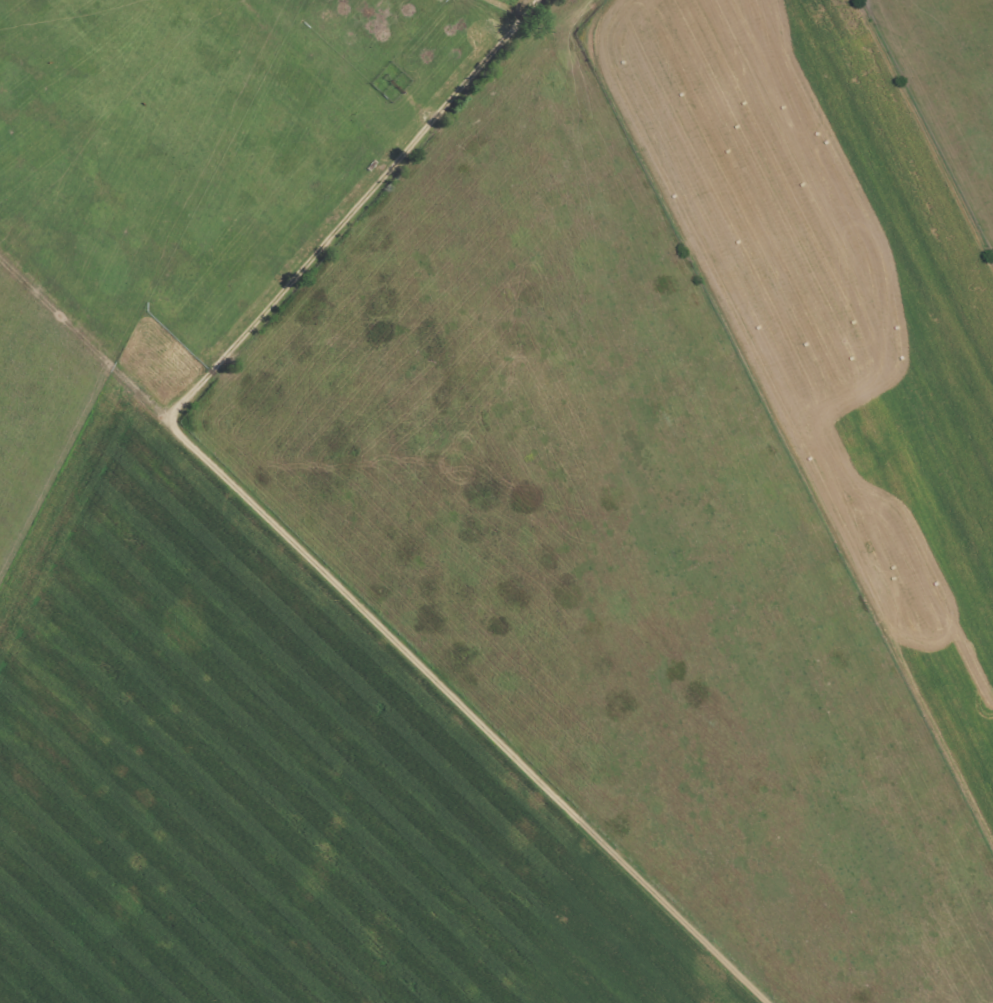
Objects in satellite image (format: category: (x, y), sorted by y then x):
road: (273, 515)

